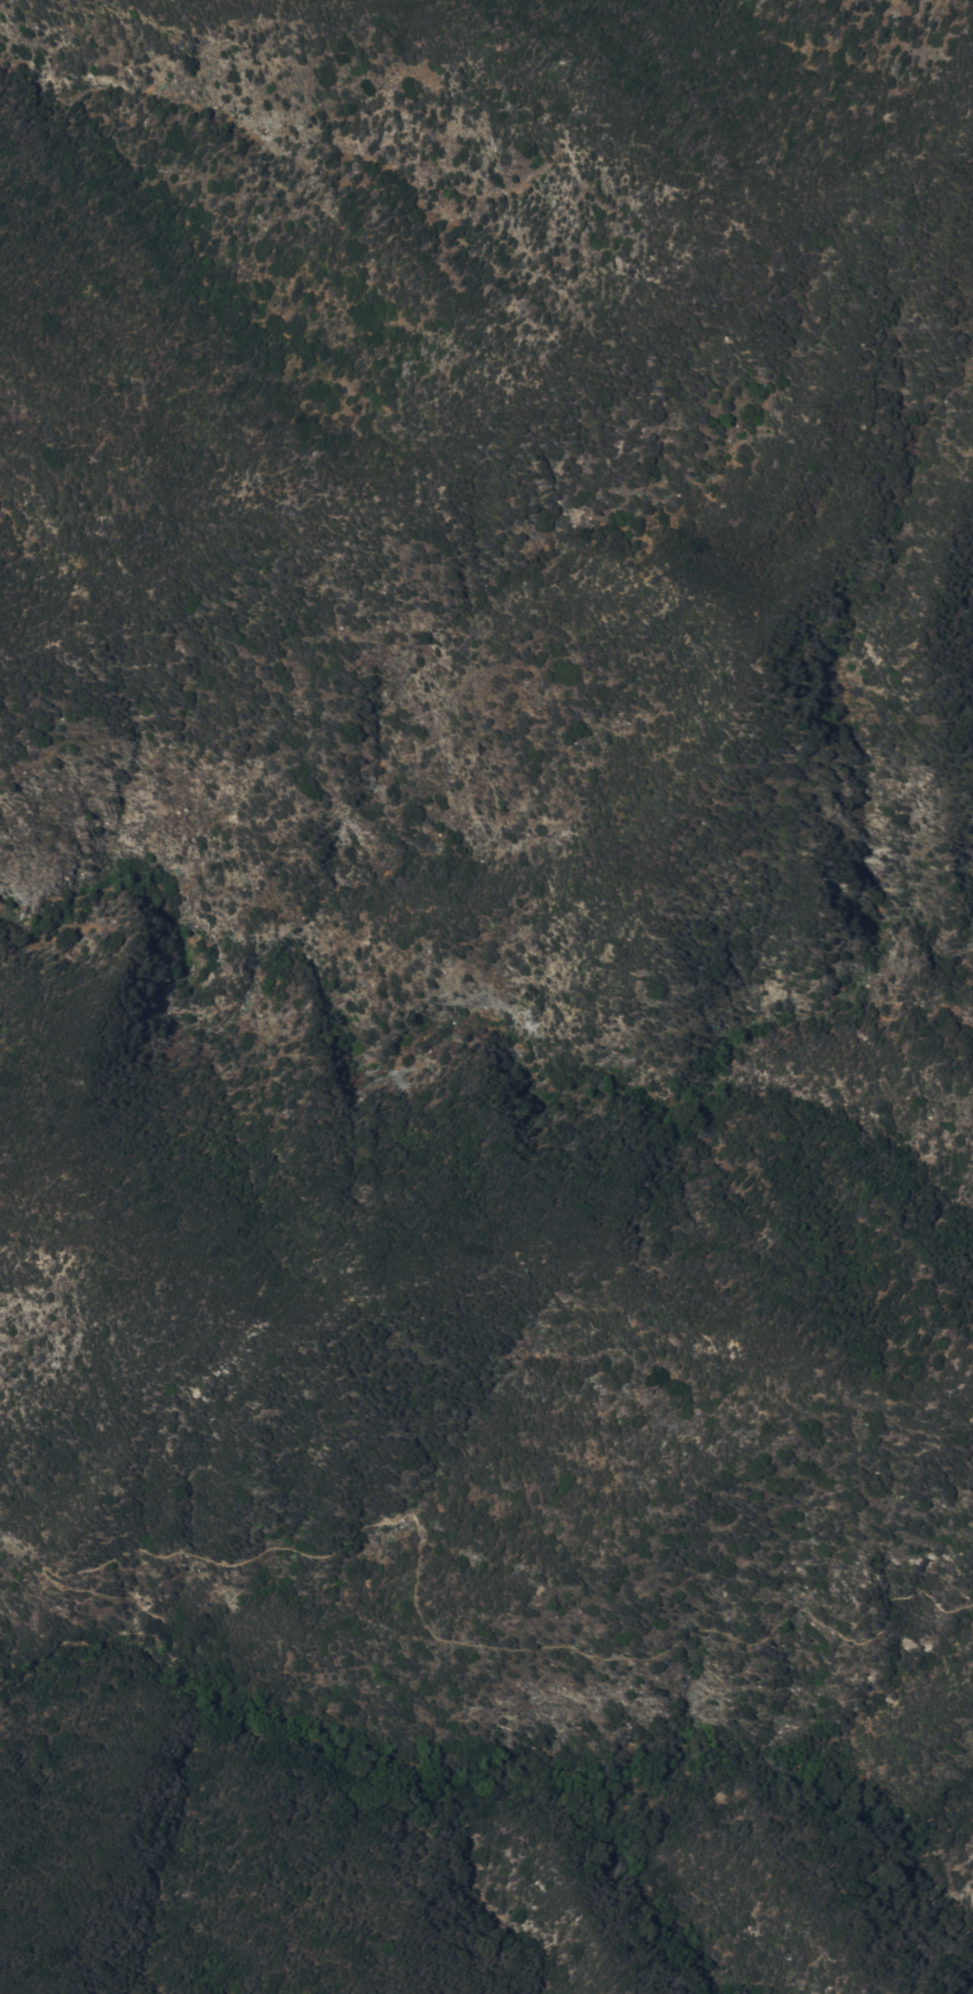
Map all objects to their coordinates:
road: (424, 1526)

